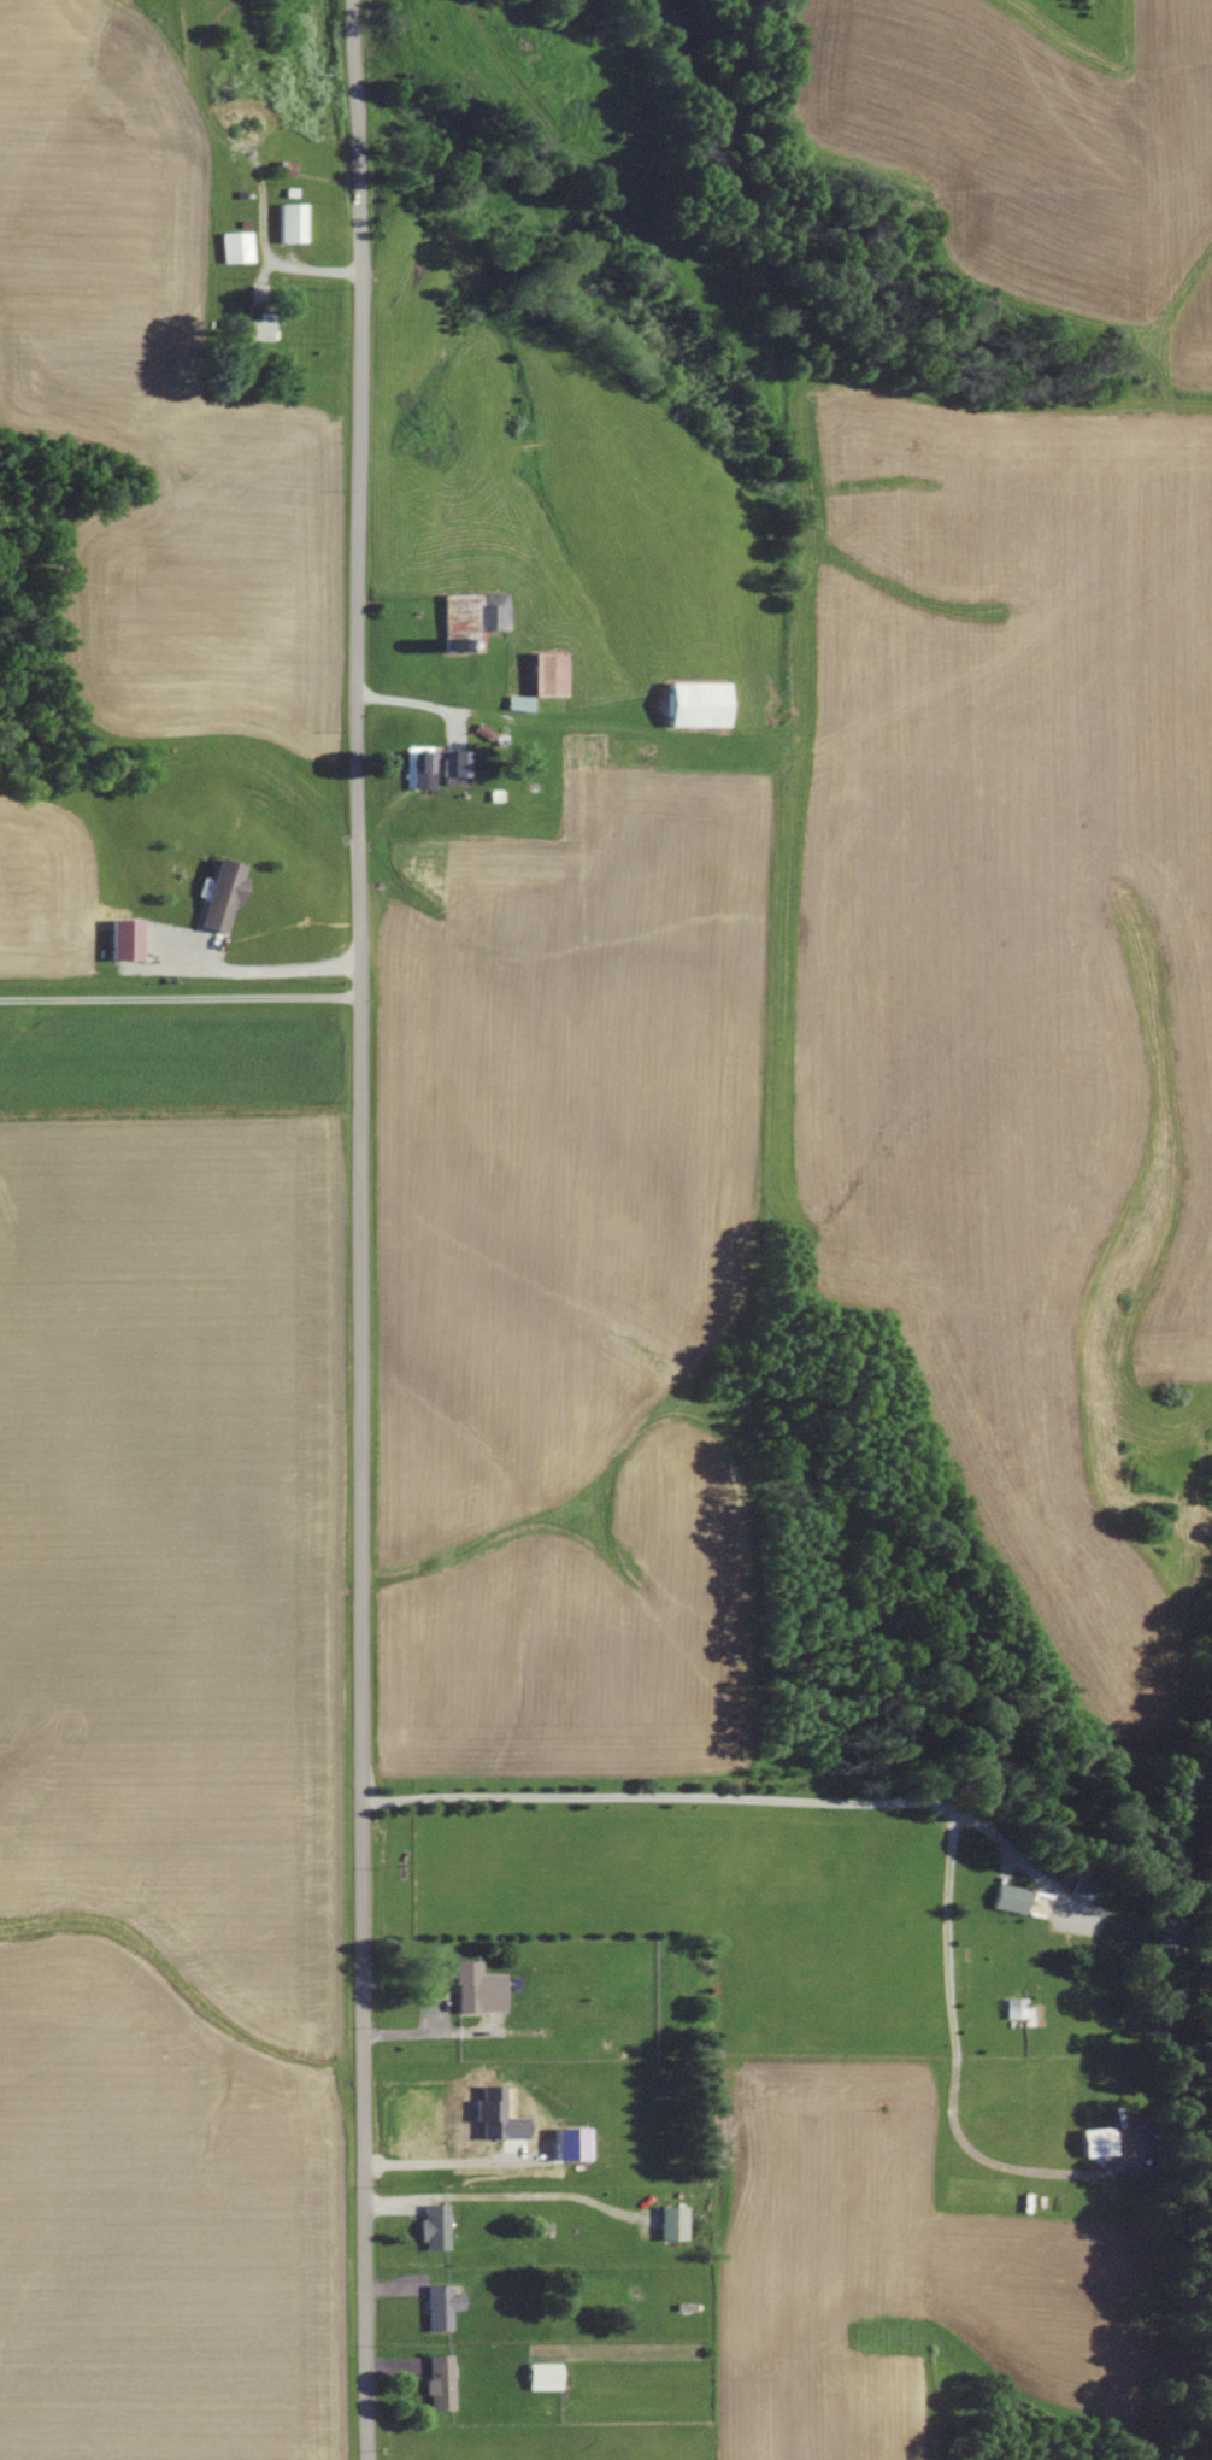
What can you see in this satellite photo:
building: (292, 223)
building: (236, 247)
building: (492, 613)
building: (549, 674)
building: (698, 705)
building: (439, 768)
building: (222, 896)
building: (124, 940)
road: (180, 999)
road: (361, 1229)
road: (751, 1797)
building: (1077, 1891)
building: (1008, 1900)
building: (1160, 1936)
building: (478, 1991)
building: (1017, 2009)
road: (429, 2035)
building: (496, 2115)
building: (1096, 2142)
building: (571, 2143)
road: (445, 2165)
building: (672, 2223)
building: (435, 2227)
building: (442, 2307)
building: (543, 2377)
building: (440, 2383)

